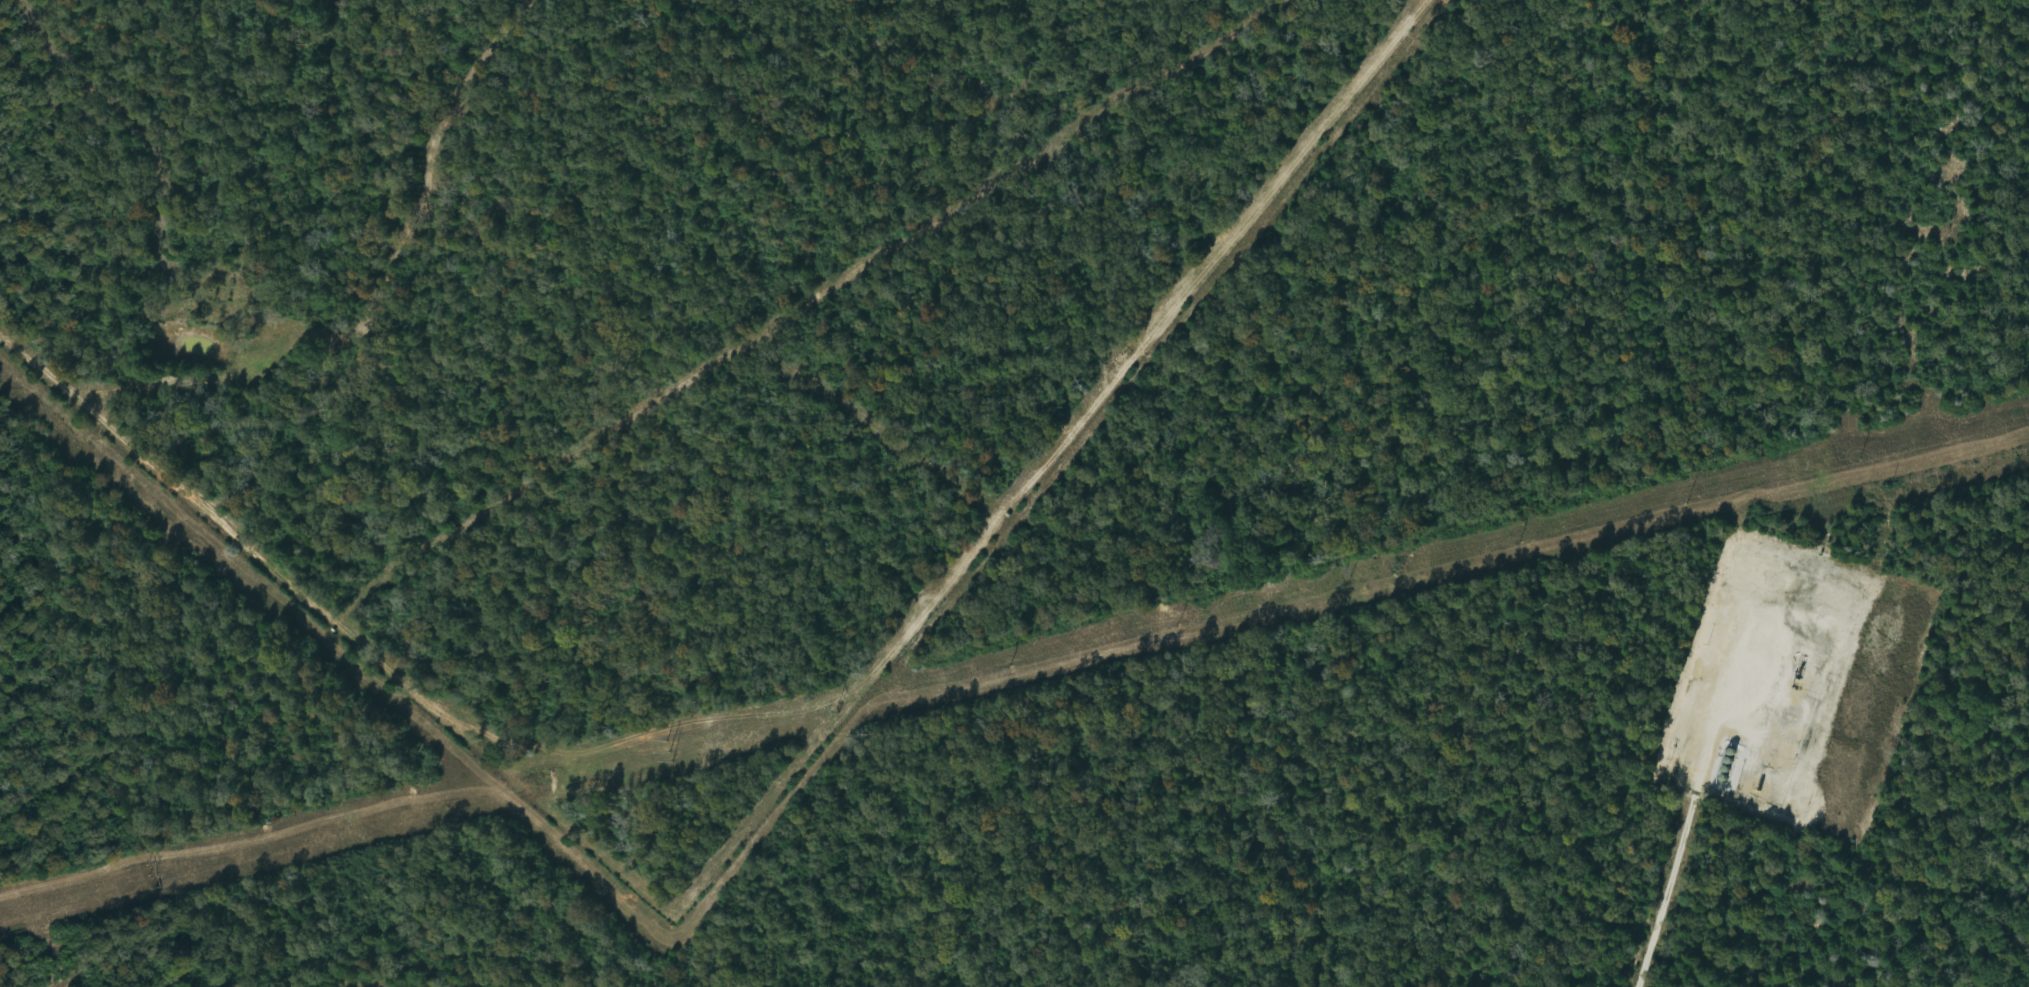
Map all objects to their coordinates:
road: (1706, 652)
petroleum well: (1798, 676)
road: (1754, 697)
building: (1731, 752)
silo: (1731, 752)
building: (1728, 760)
silo: (1728, 760)
building: (1725, 769)
silo: (1725, 769)
building: (1723, 777)
silo: (1723, 777)
chimney: (1735, 790)

